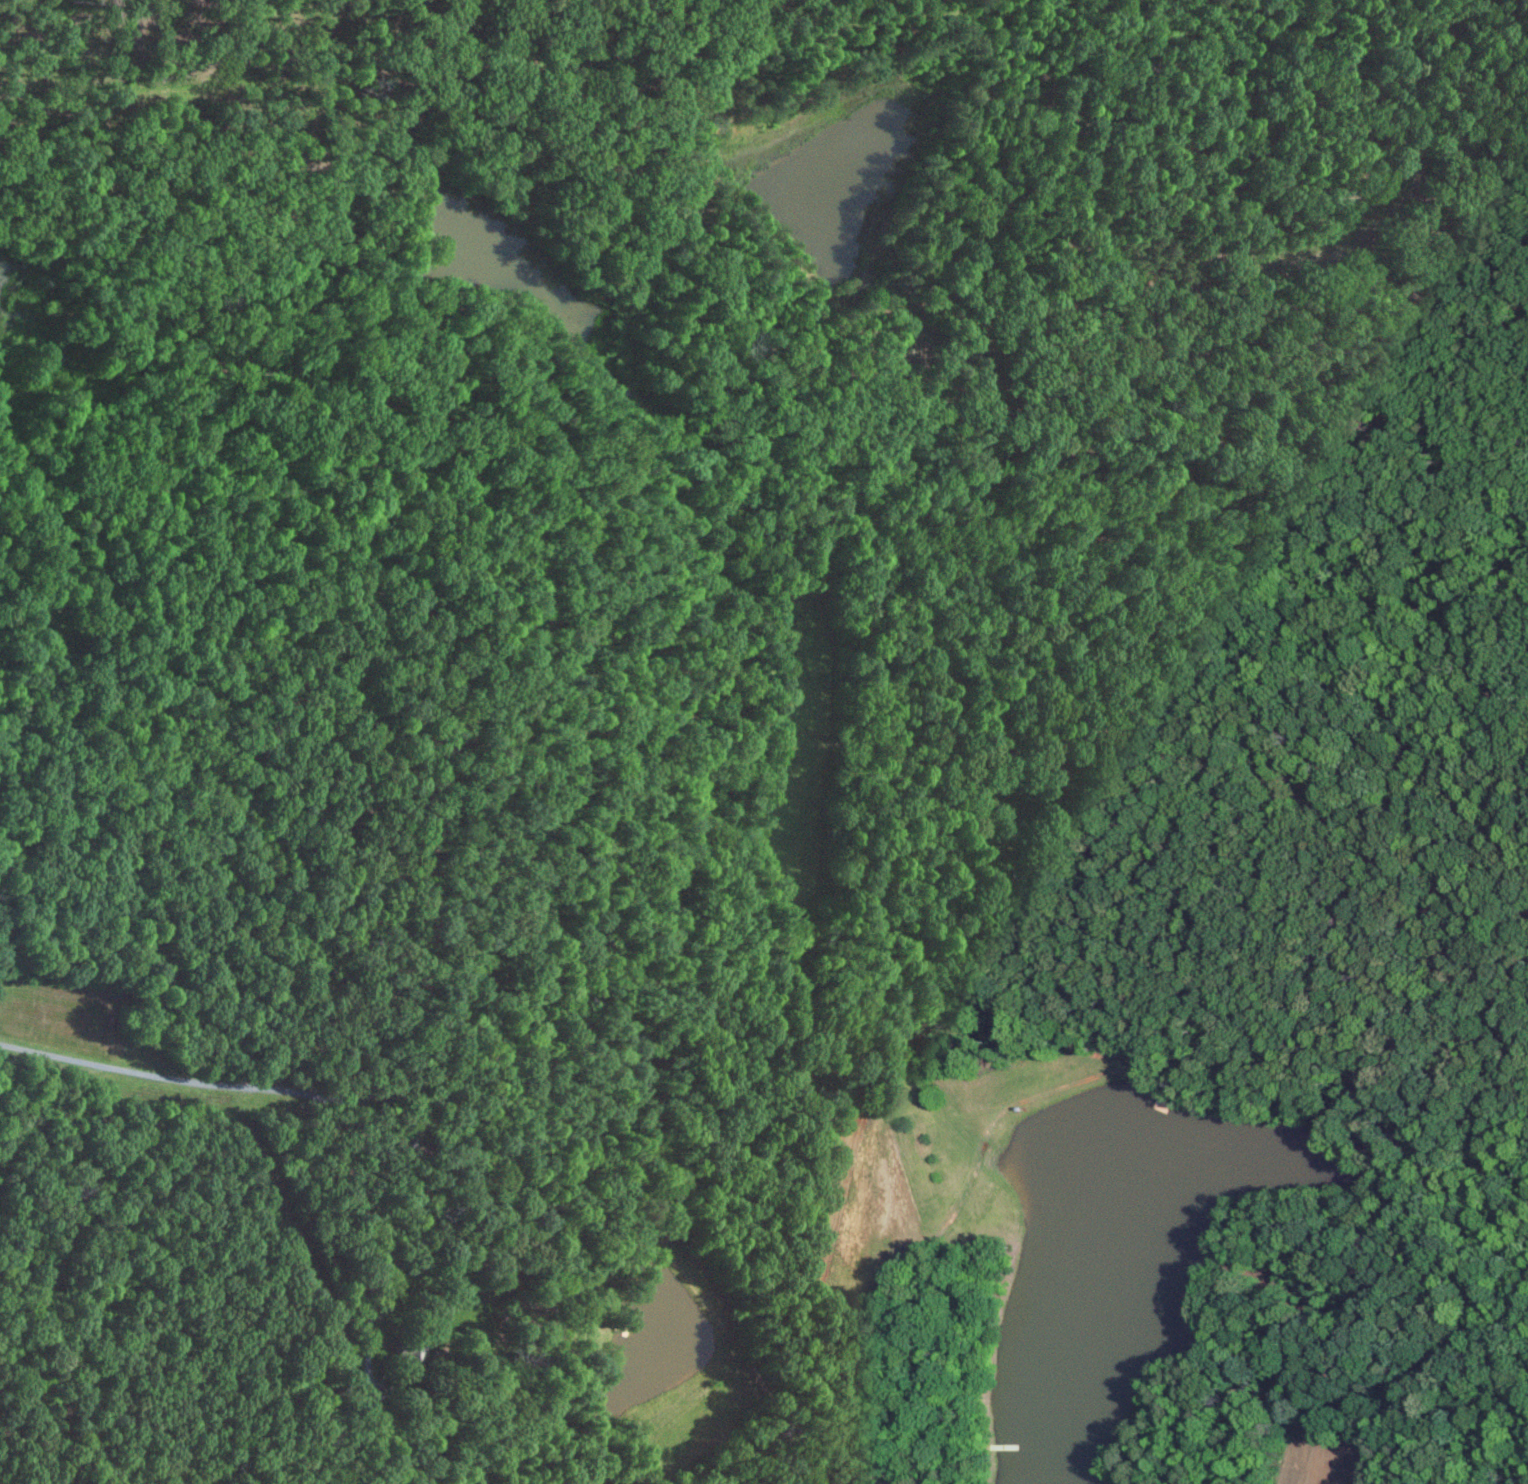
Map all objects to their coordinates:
road: (137, 1072)

